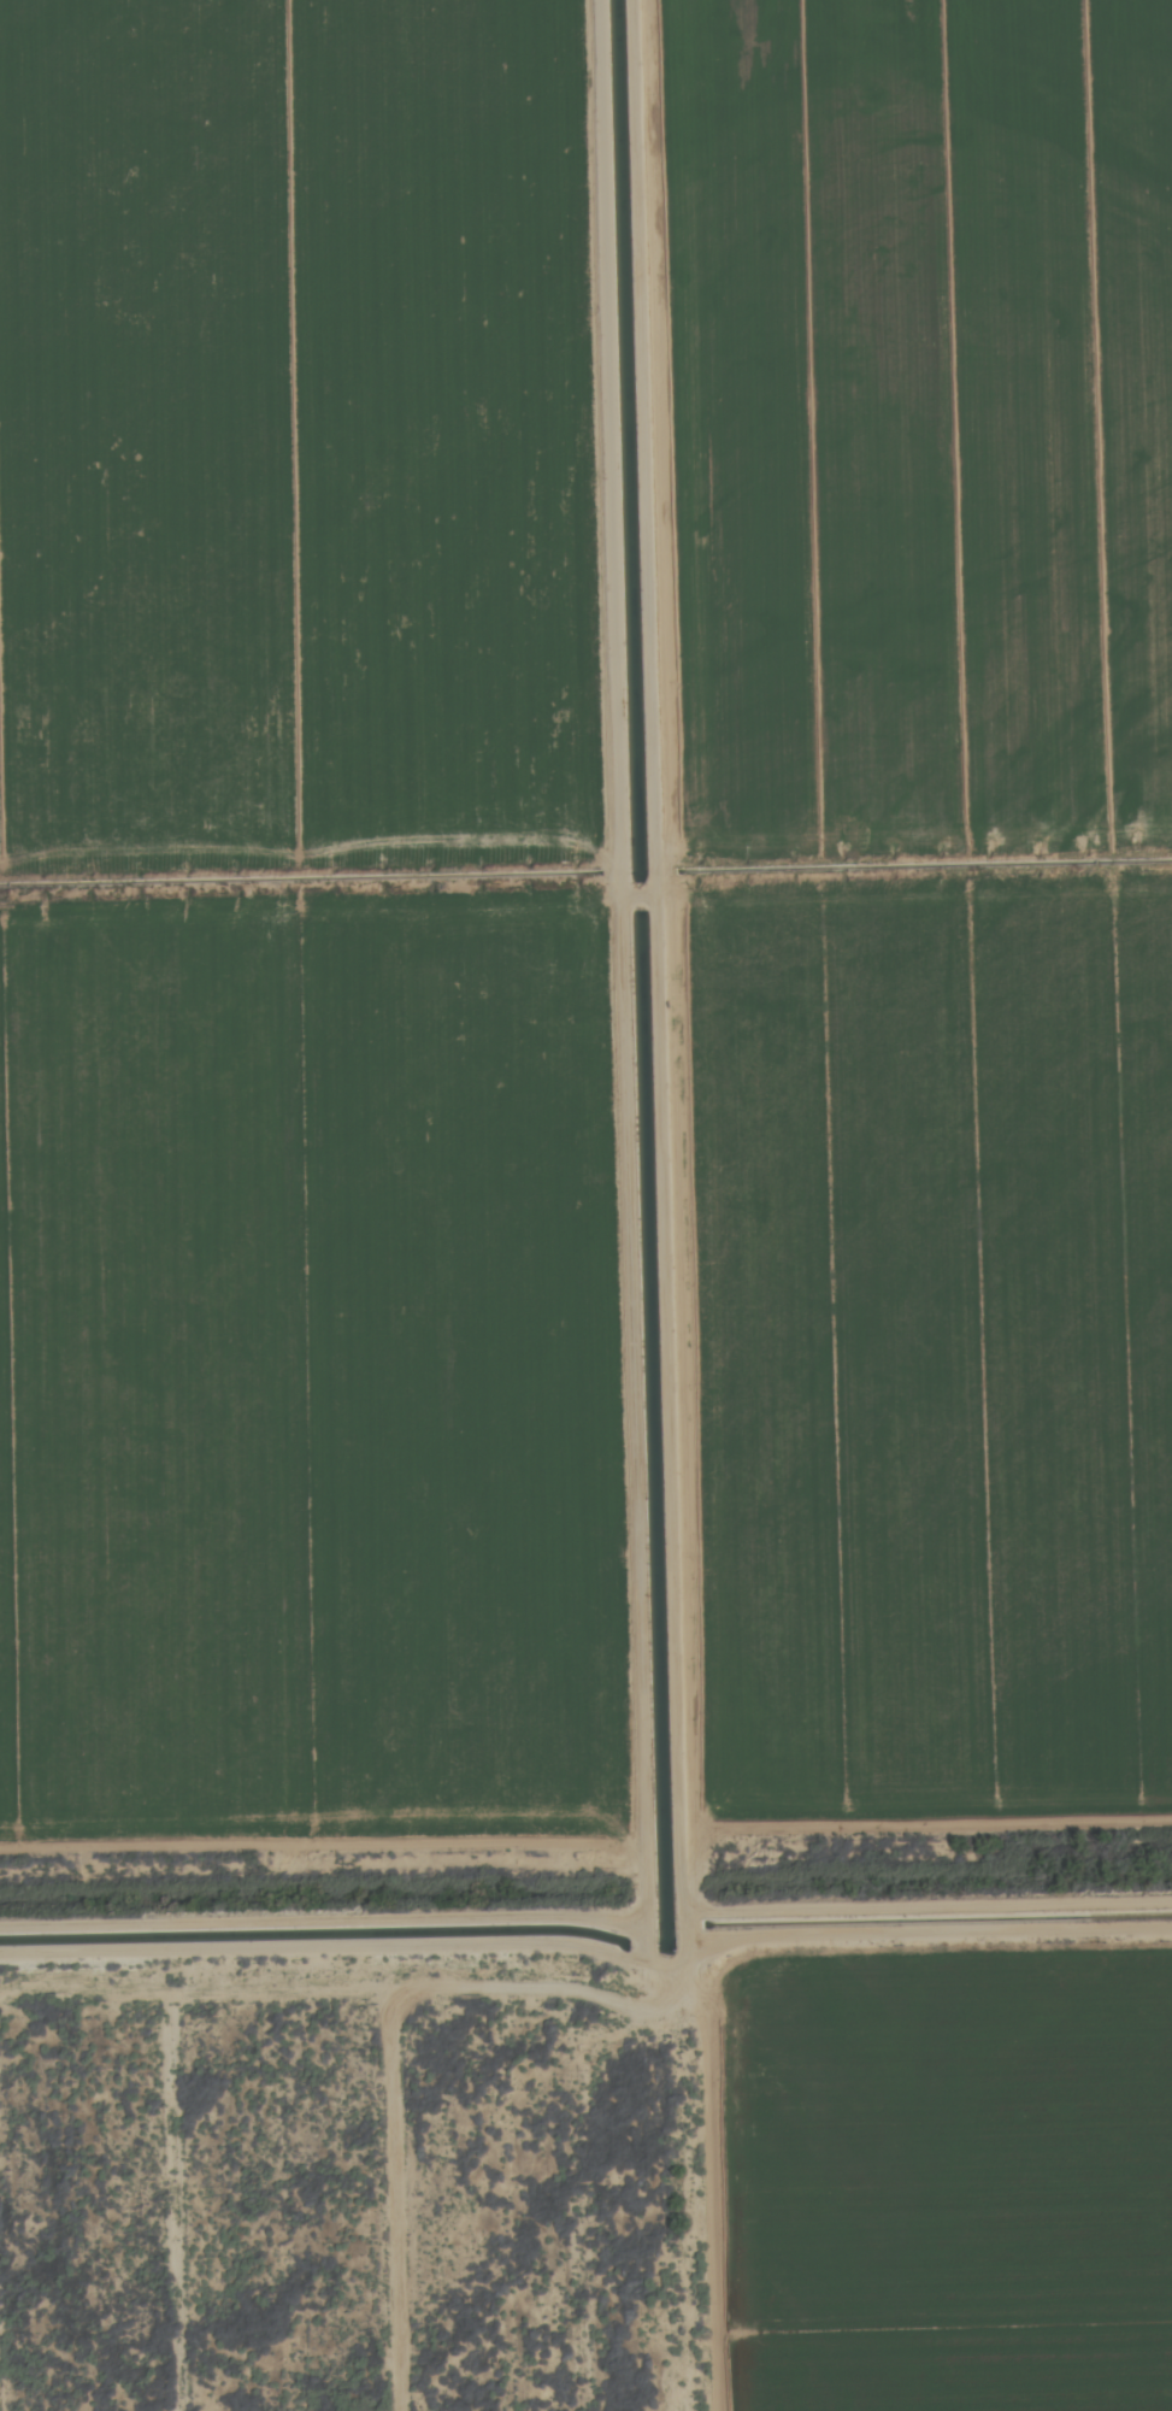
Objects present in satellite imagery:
crop: (942, 1354)

